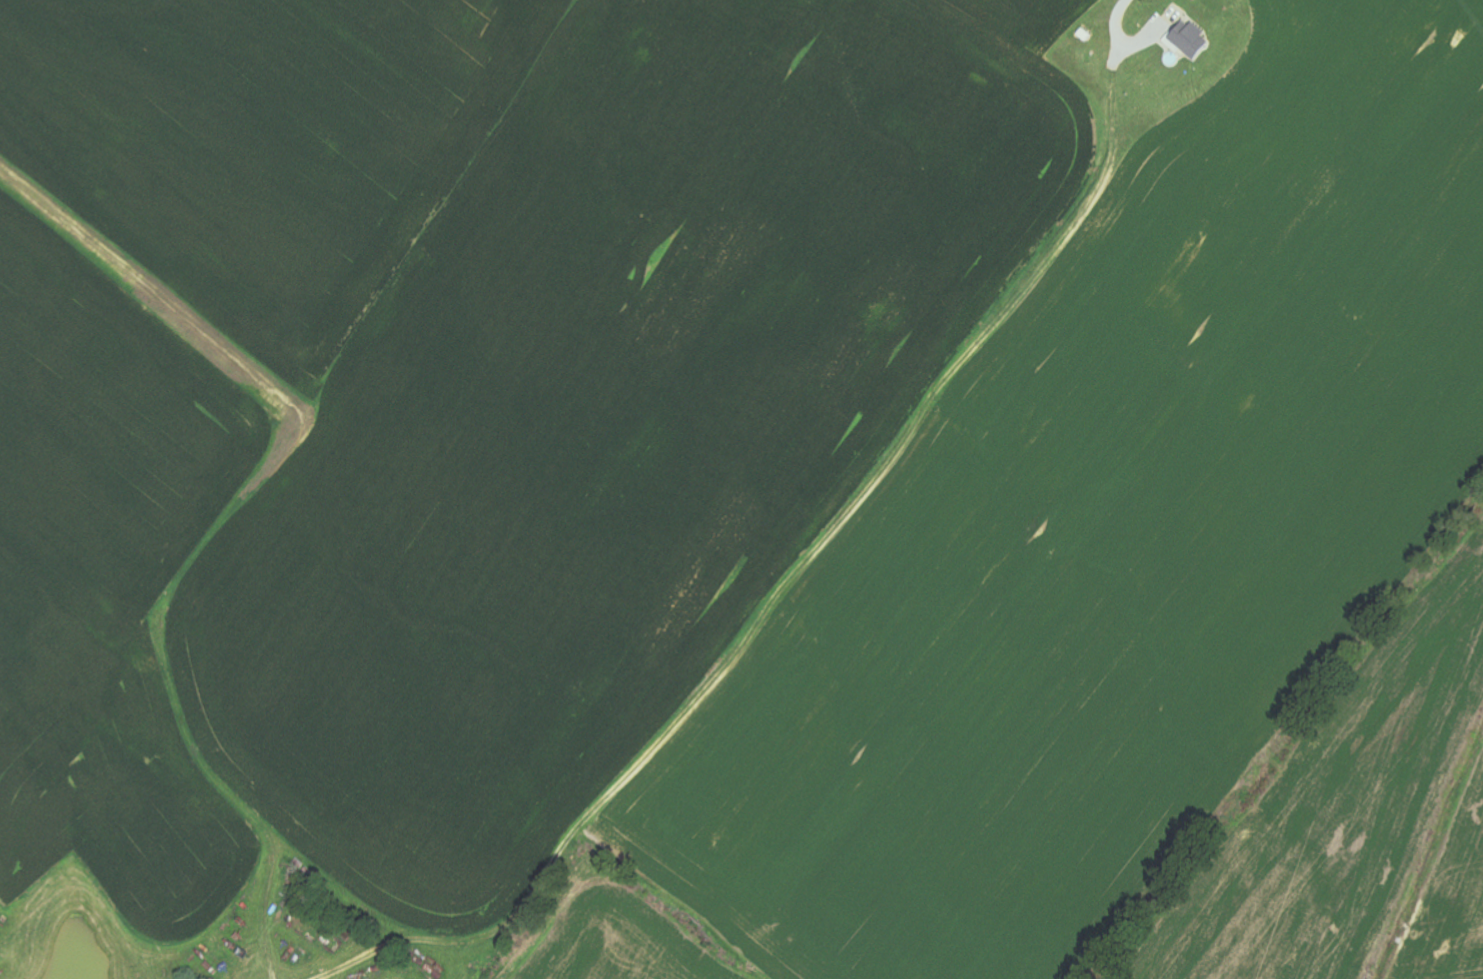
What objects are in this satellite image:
building: (1190, 40)

